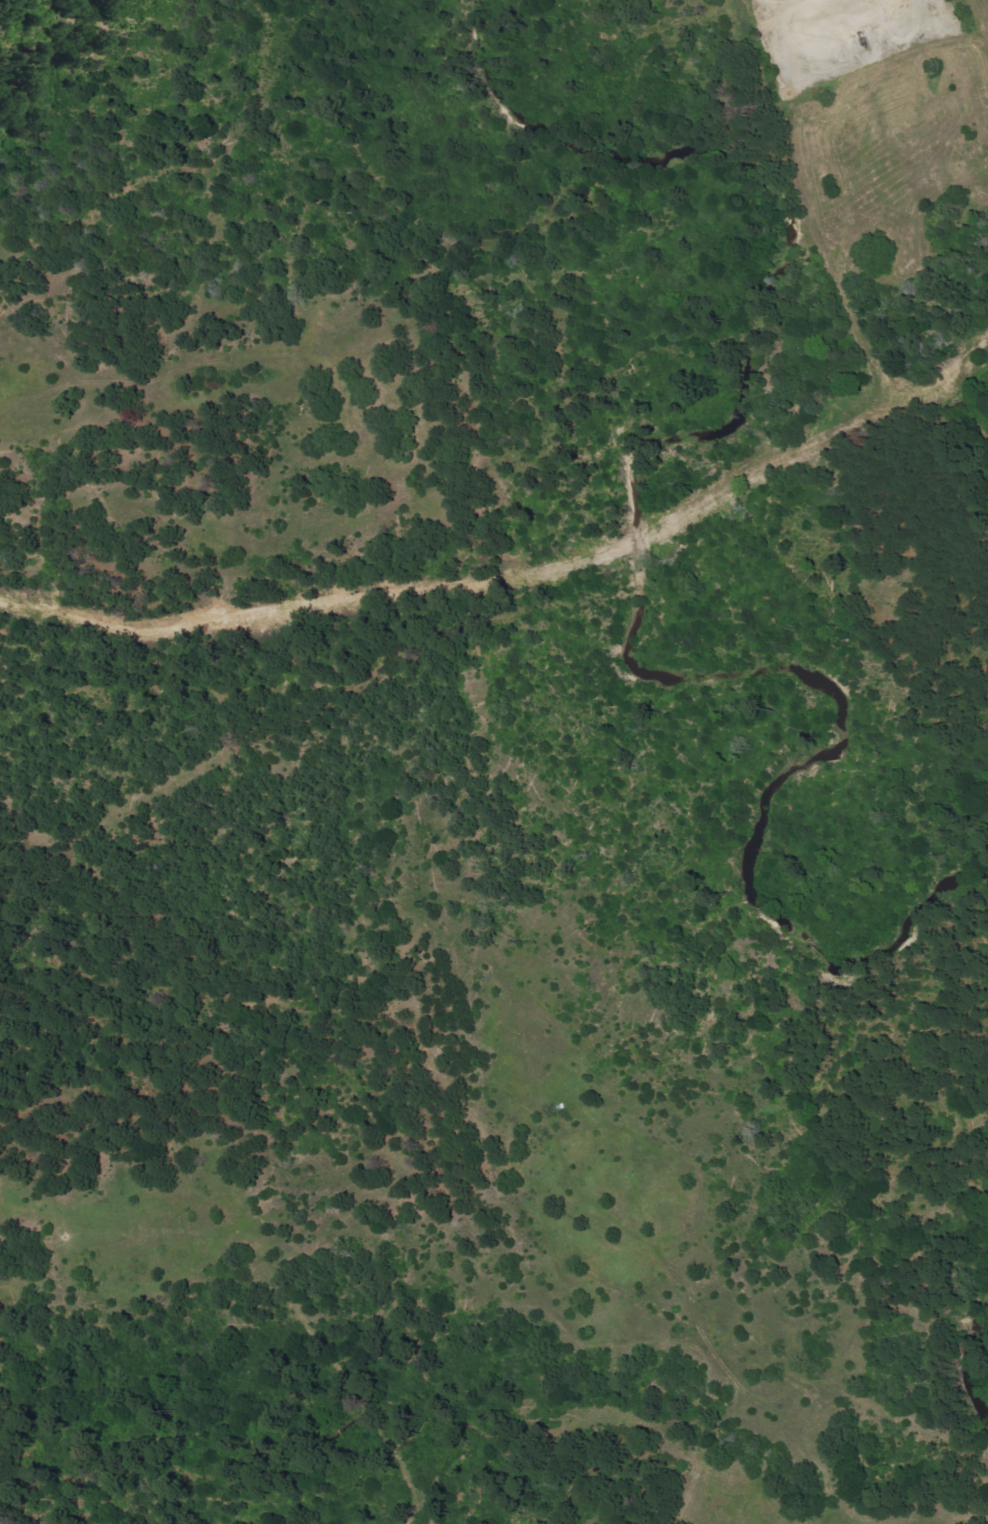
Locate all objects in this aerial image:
petroleum well: (865, 39)

